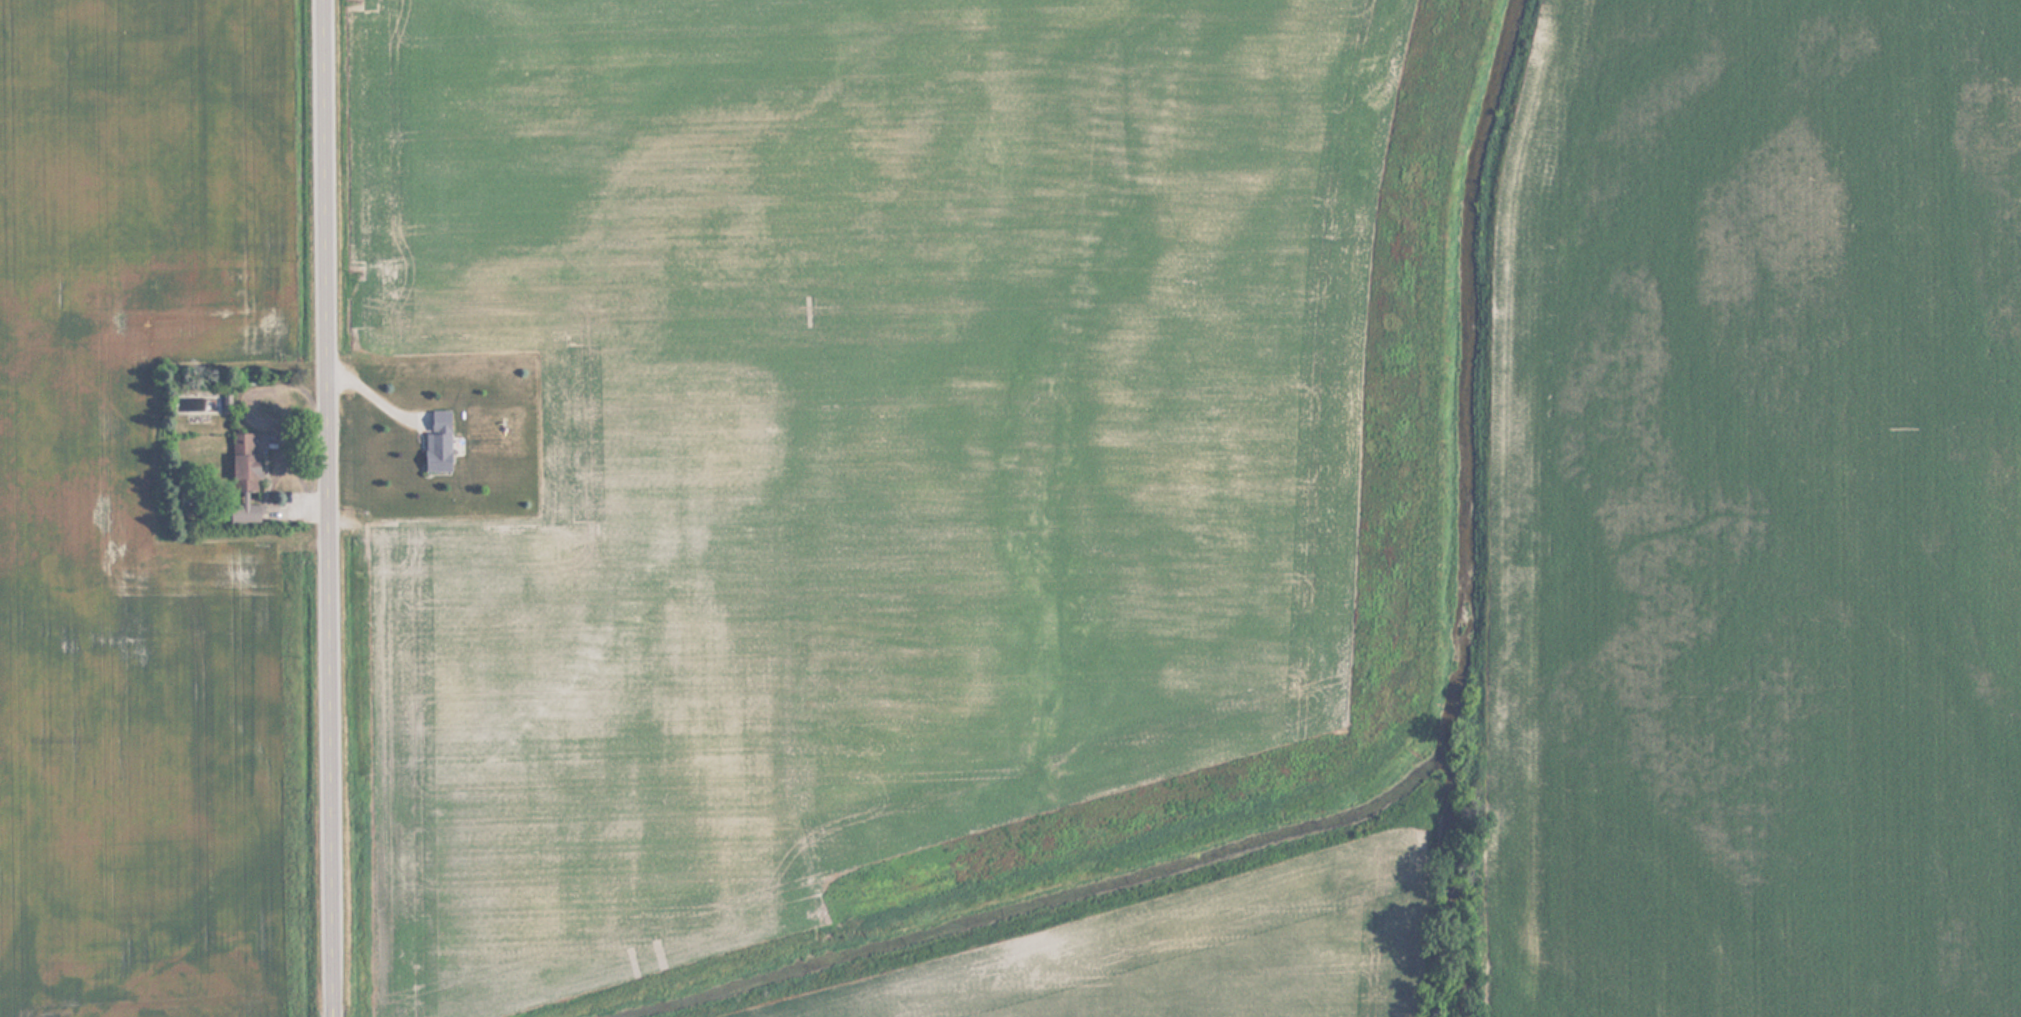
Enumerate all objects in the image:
river: (1463, 378)
building: (437, 441)
building: (243, 464)
road: (331, 508)
building: (244, 513)

